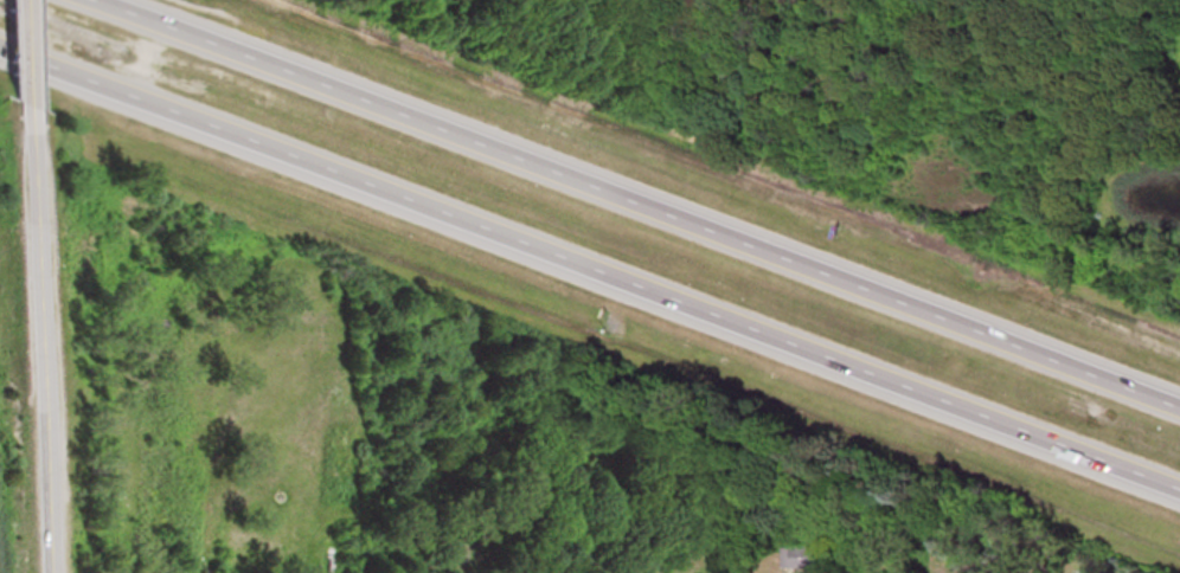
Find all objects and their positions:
road: (24, 54)
road: (640, 202)
road: (590, 269)
road: (36, 341)
building: (796, 556)

